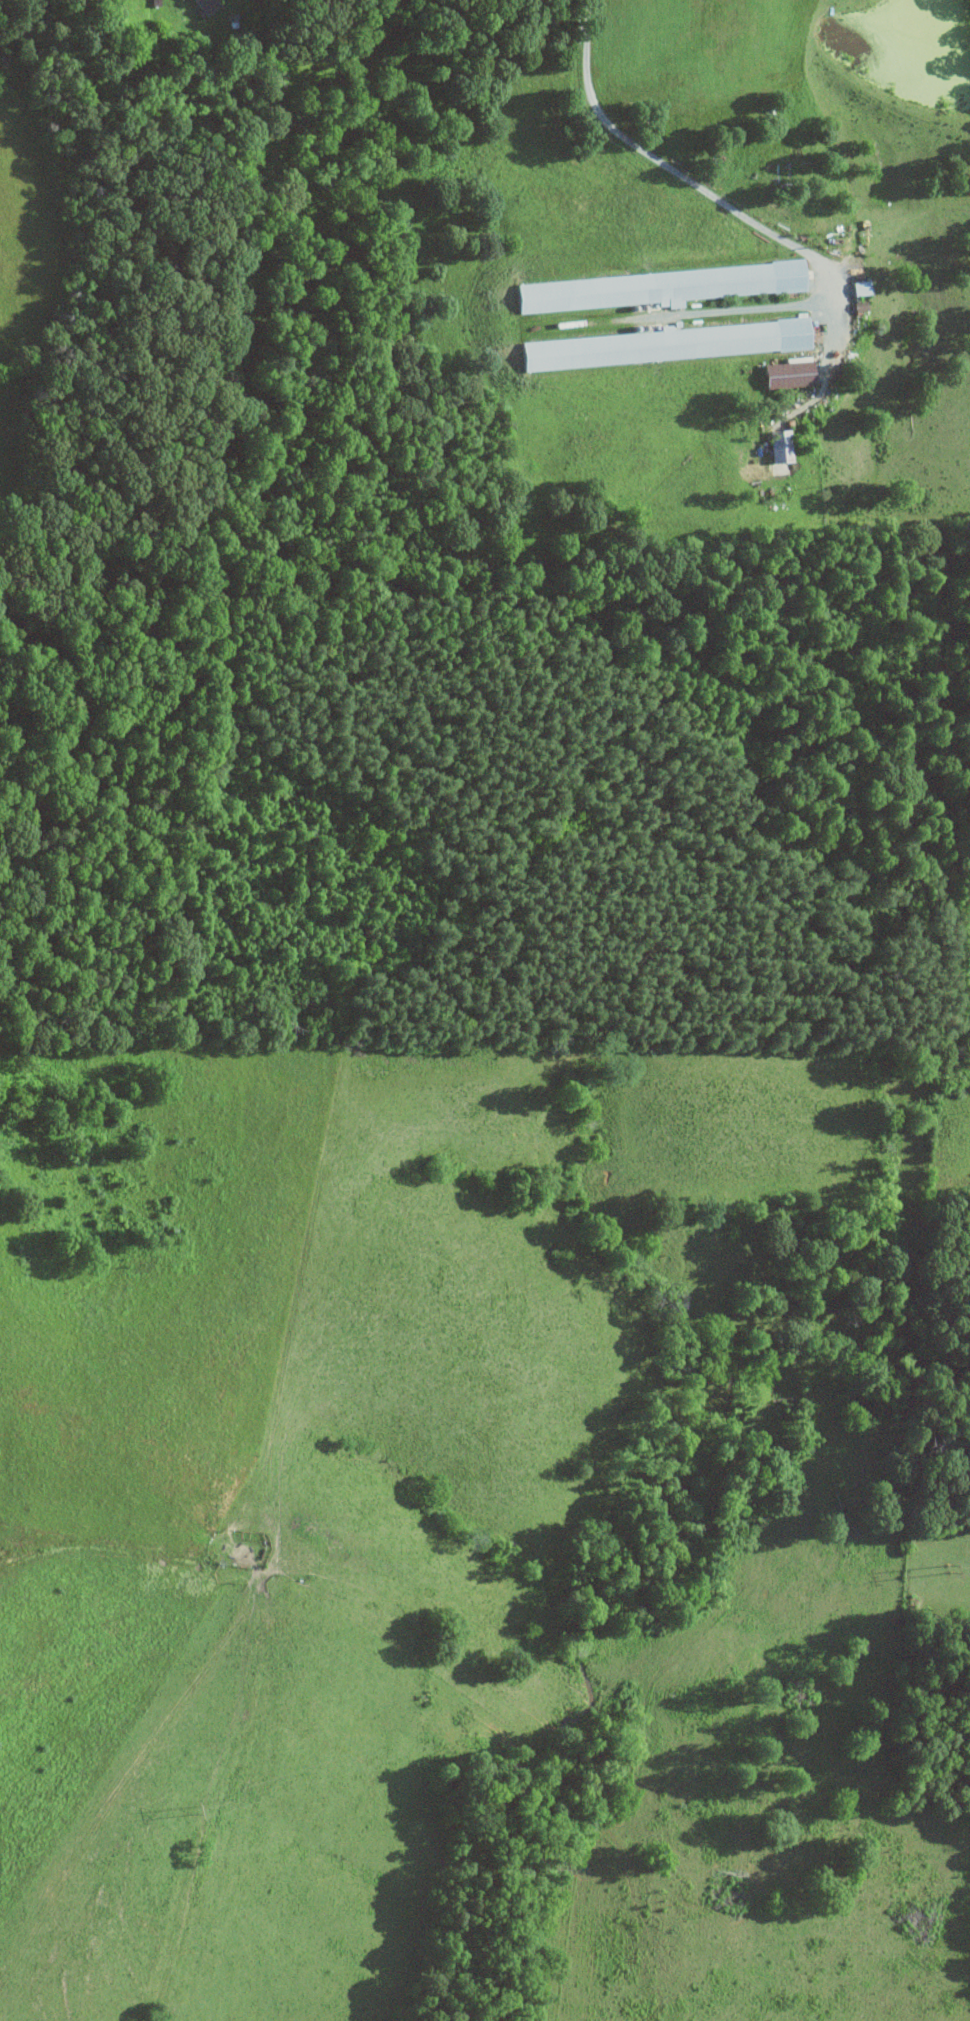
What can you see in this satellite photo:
building: (204, 5)
road: (687, 178)
building: (655, 286)
building: (857, 287)
building: (665, 343)
building: (784, 373)
building: (777, 445)

